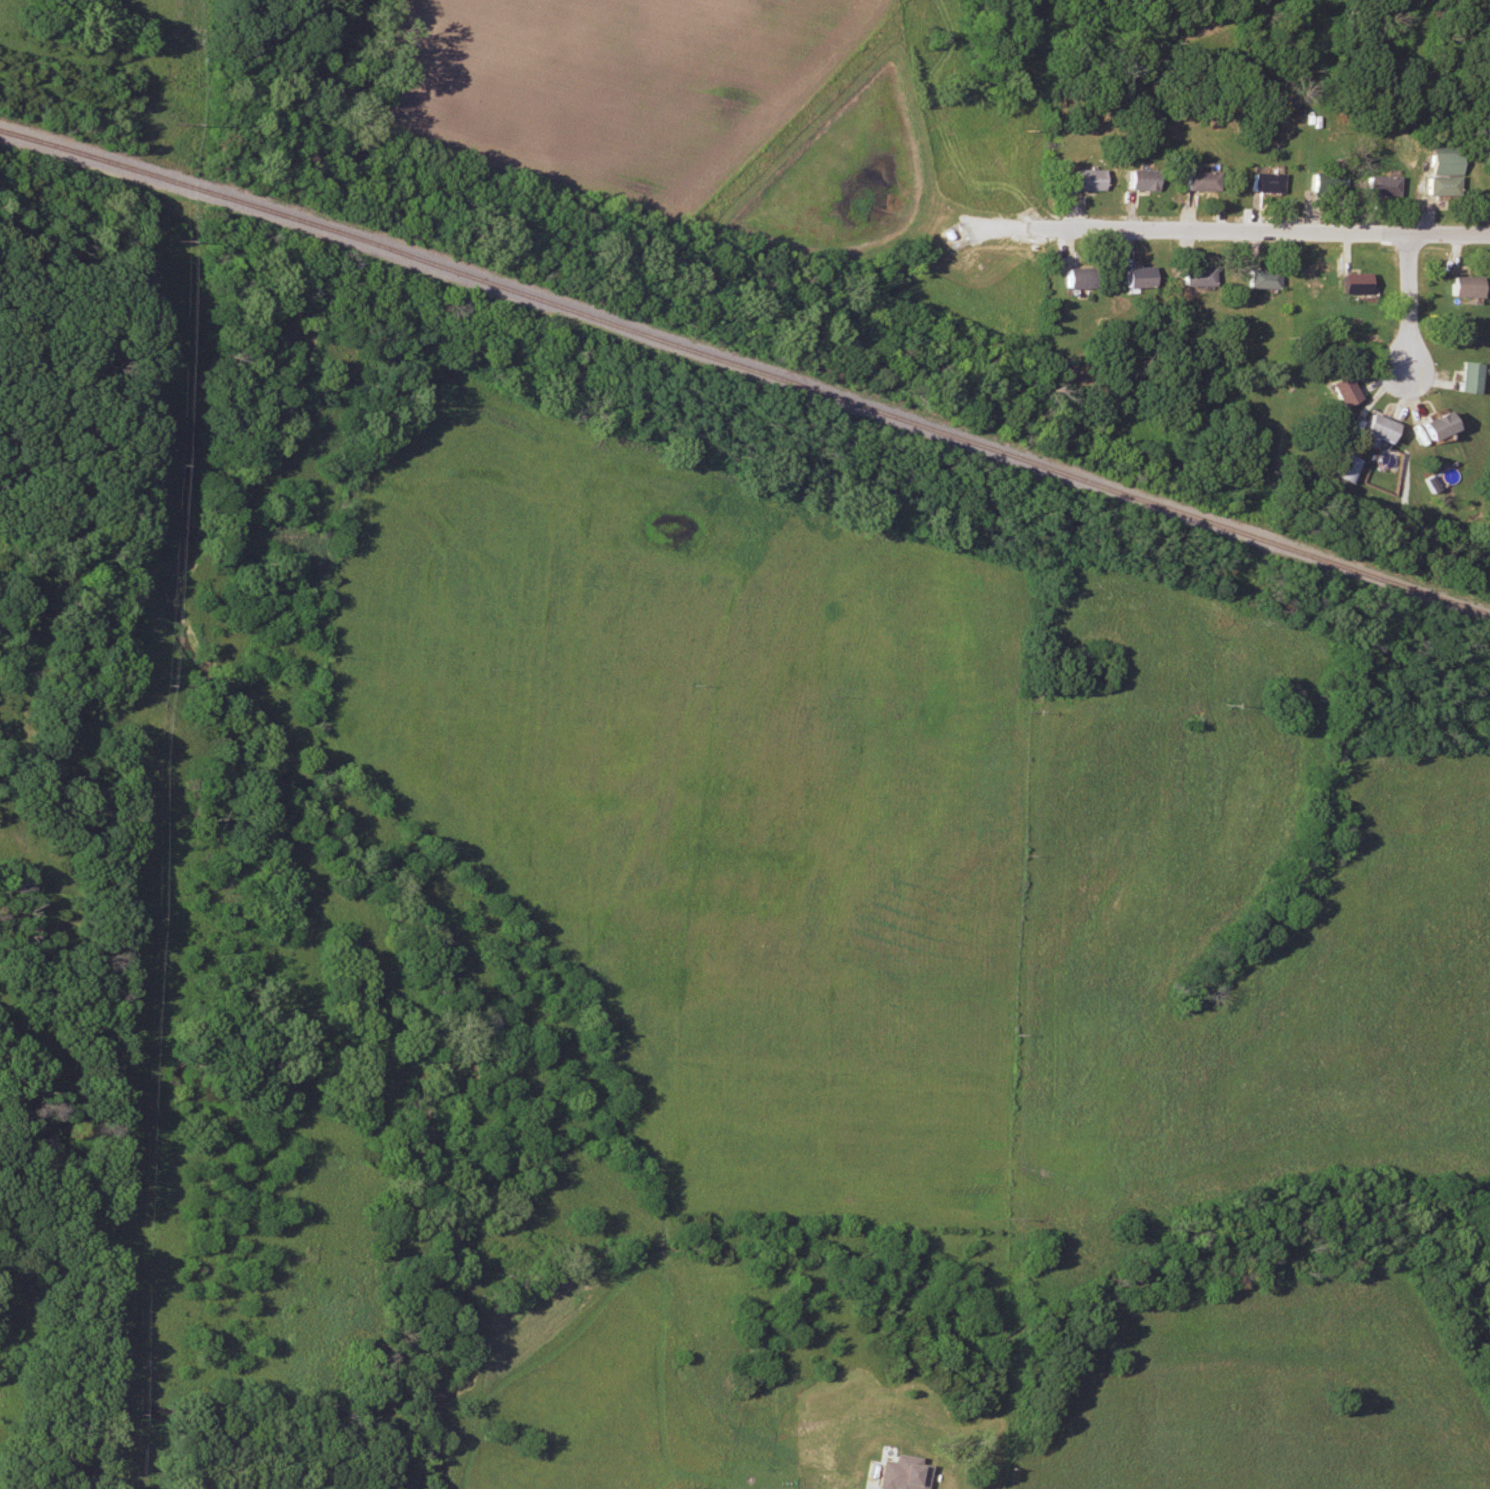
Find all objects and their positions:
river: (275, 91)
building: (1440, 171)
building: (1084, 180)
building: (1137, 180)
building: (1197, 180)
building: (1263, 182)
building: (1320, 184)
building: (1378, 186)
river: (238, 204)
road: (1251, 232)
building: (1073, 277)
building: (1135, 277)
building: (1196, 277)
building: (1262, 278)
building: (1351, 283)
building: (1461, 287)
road: (1408, 303)
railway: (746, 369)
building: (1465, 376)
building: (1338, 390)
building: (1429, 423)
building: (1370, 431)
building: (1341, 469)
river: (398, 913)
building: (979, 1454)
building: (901, 1485)

